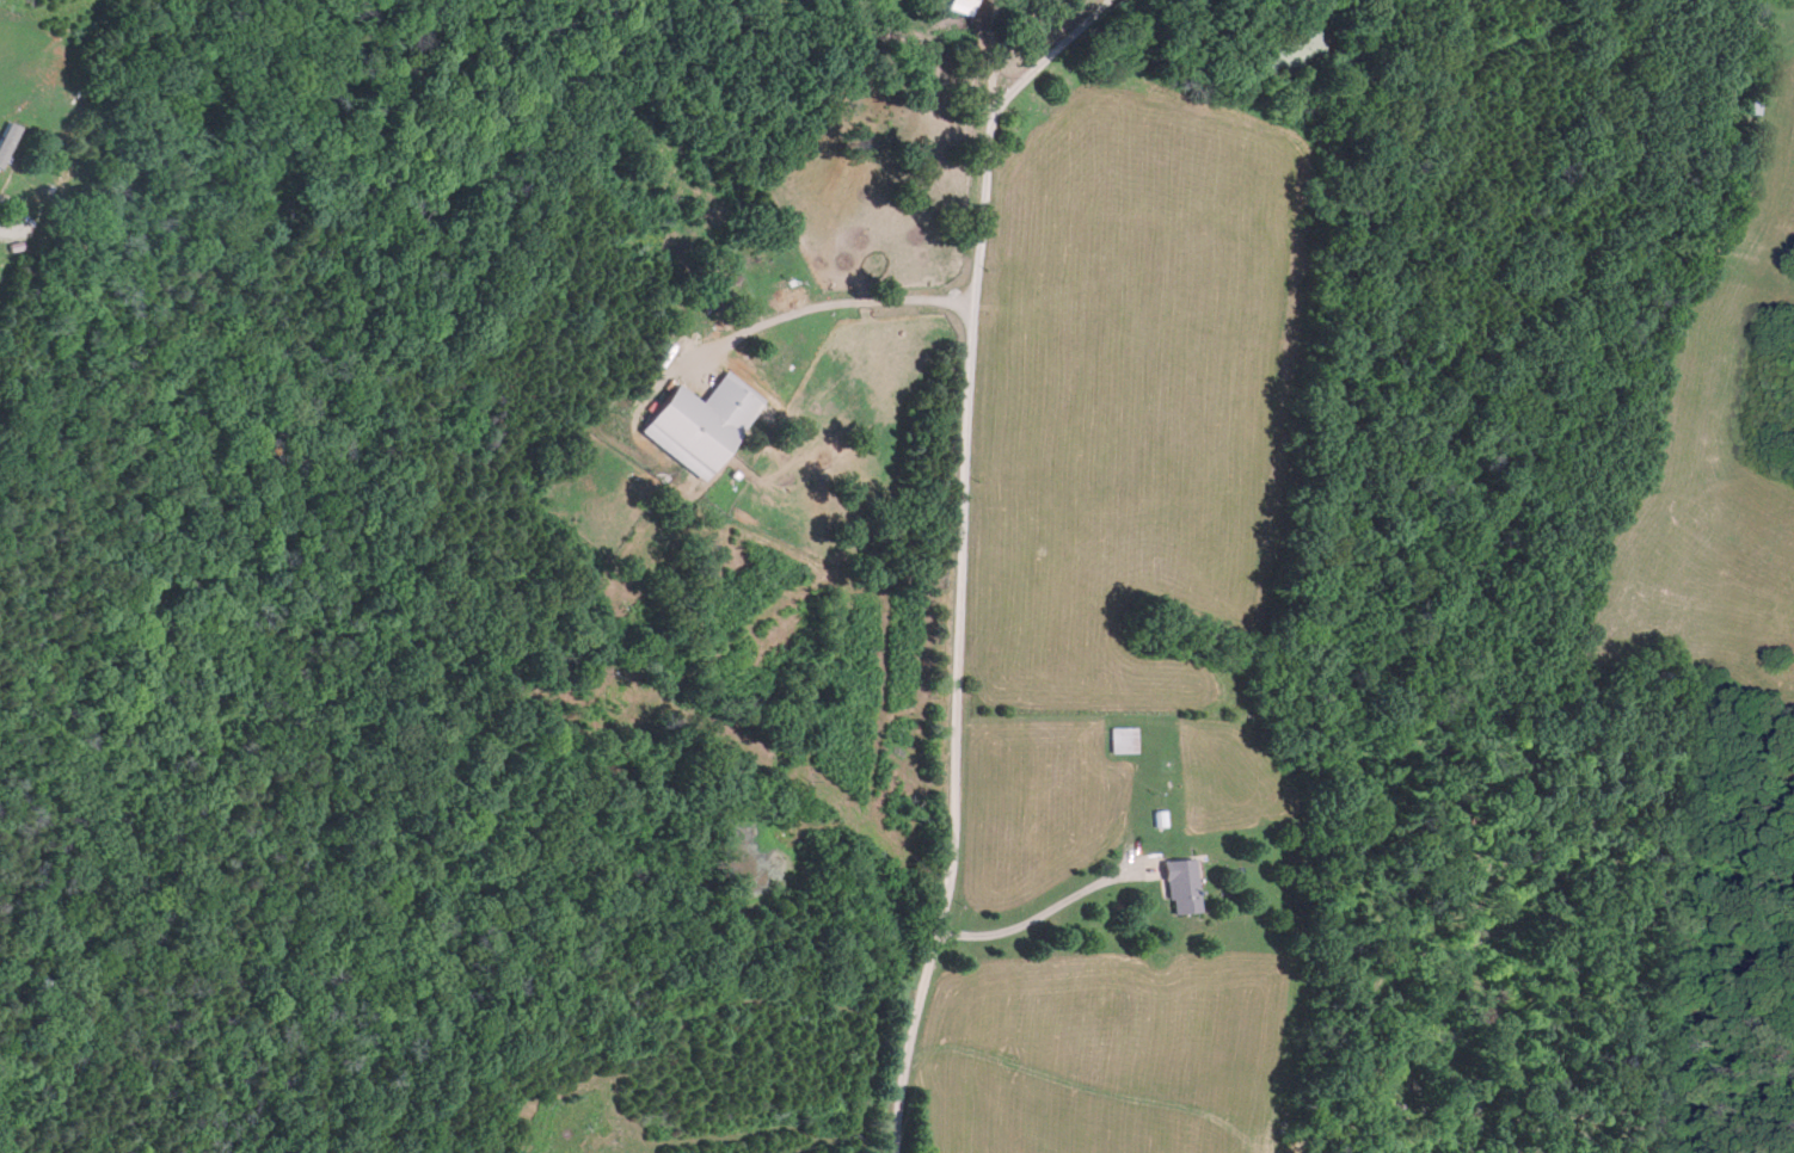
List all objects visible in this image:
building: (957, 6)
building: (60, 175)
road: (852, 302)
building: (698, 421)
road: (964, 559)
building: (1120, 739)
building: (1176, 884)

